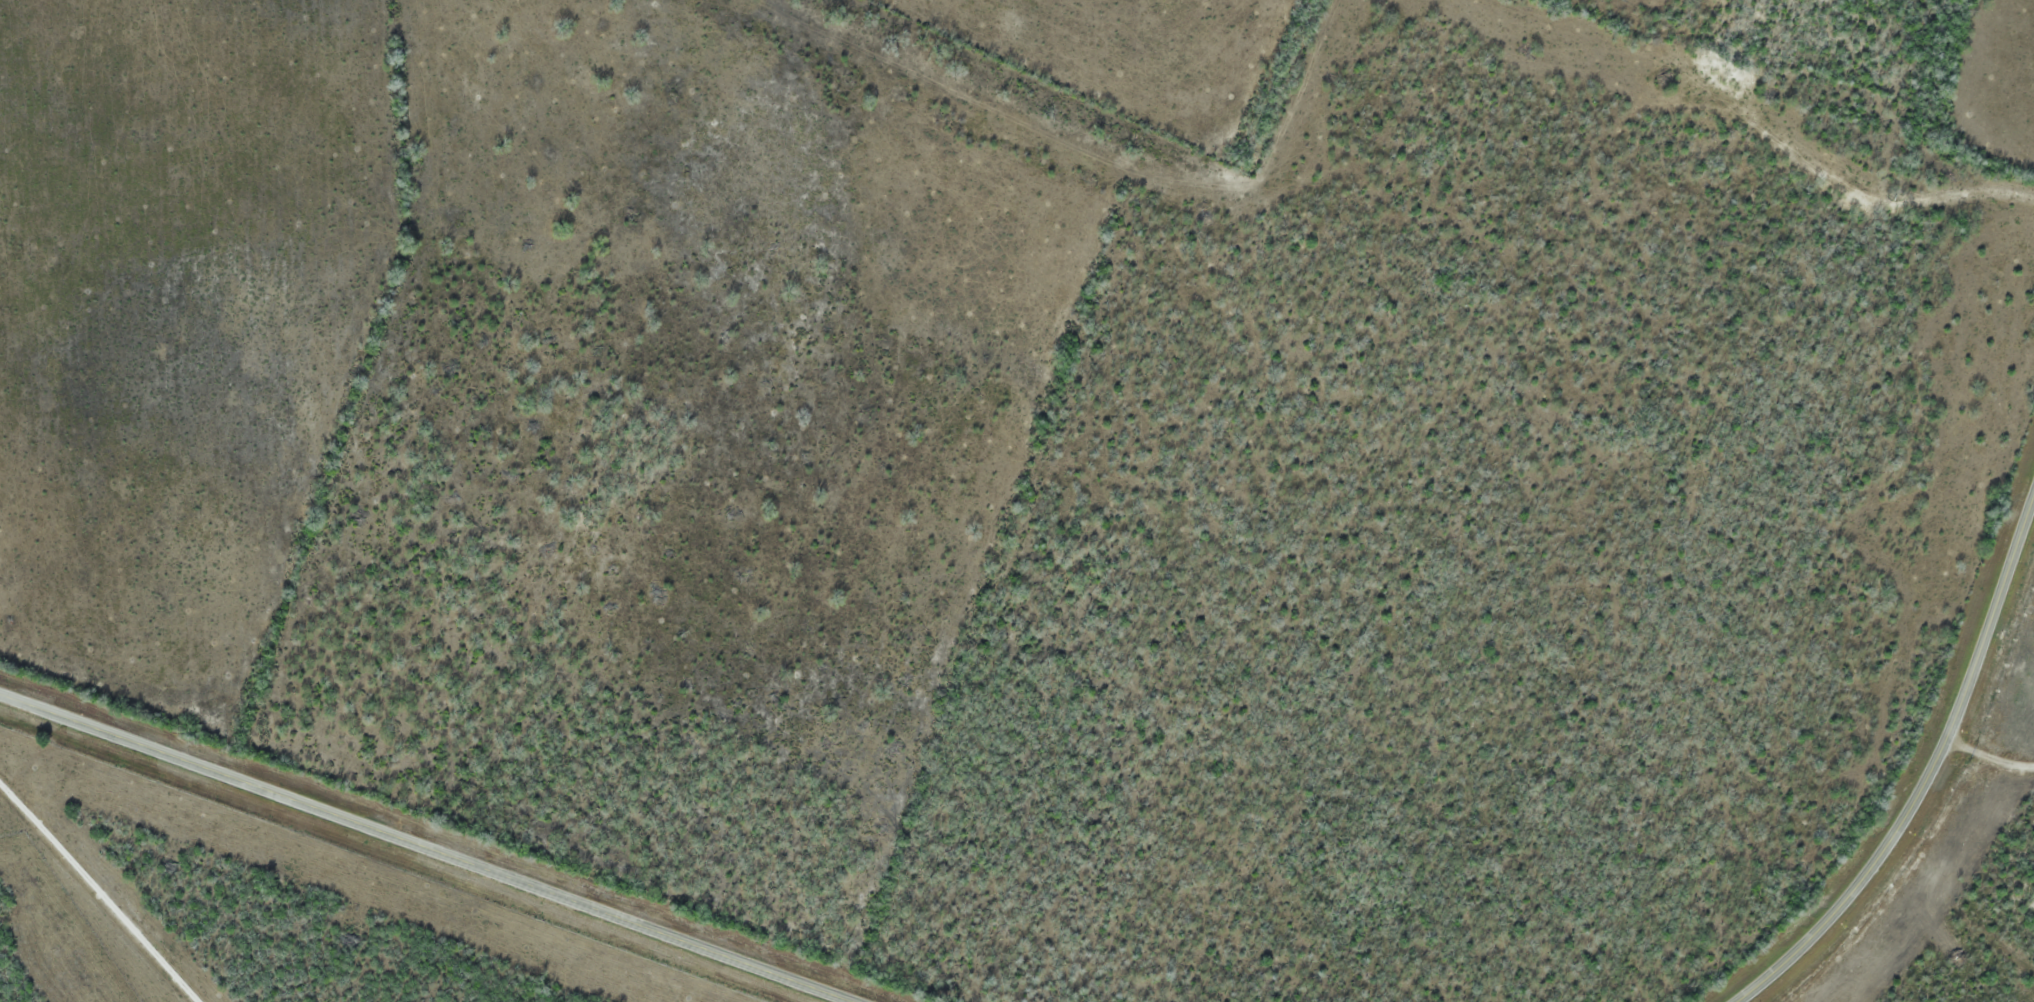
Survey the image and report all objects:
road: (1931, 785)
road: (423, 848)

